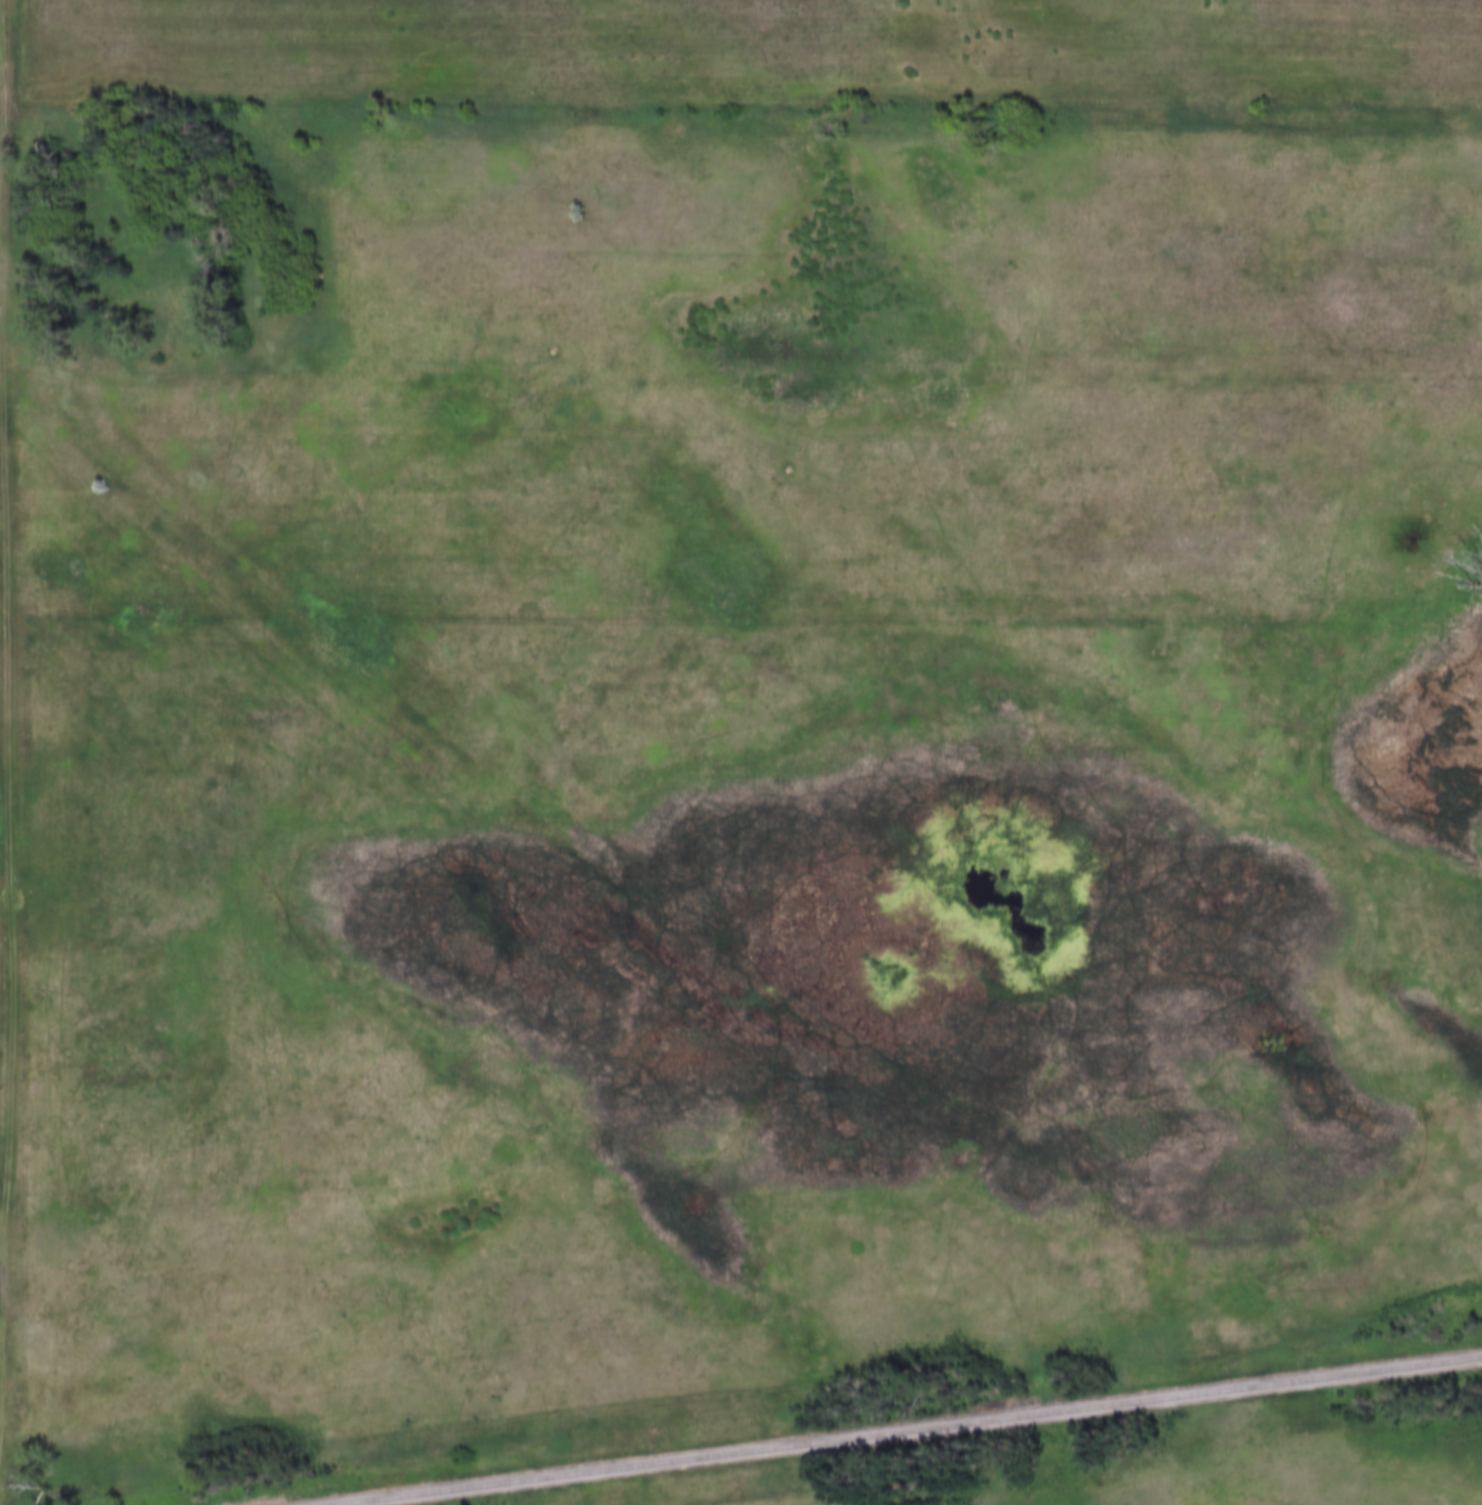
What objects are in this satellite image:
road: (14, 714)
railway: (898, 1429)

